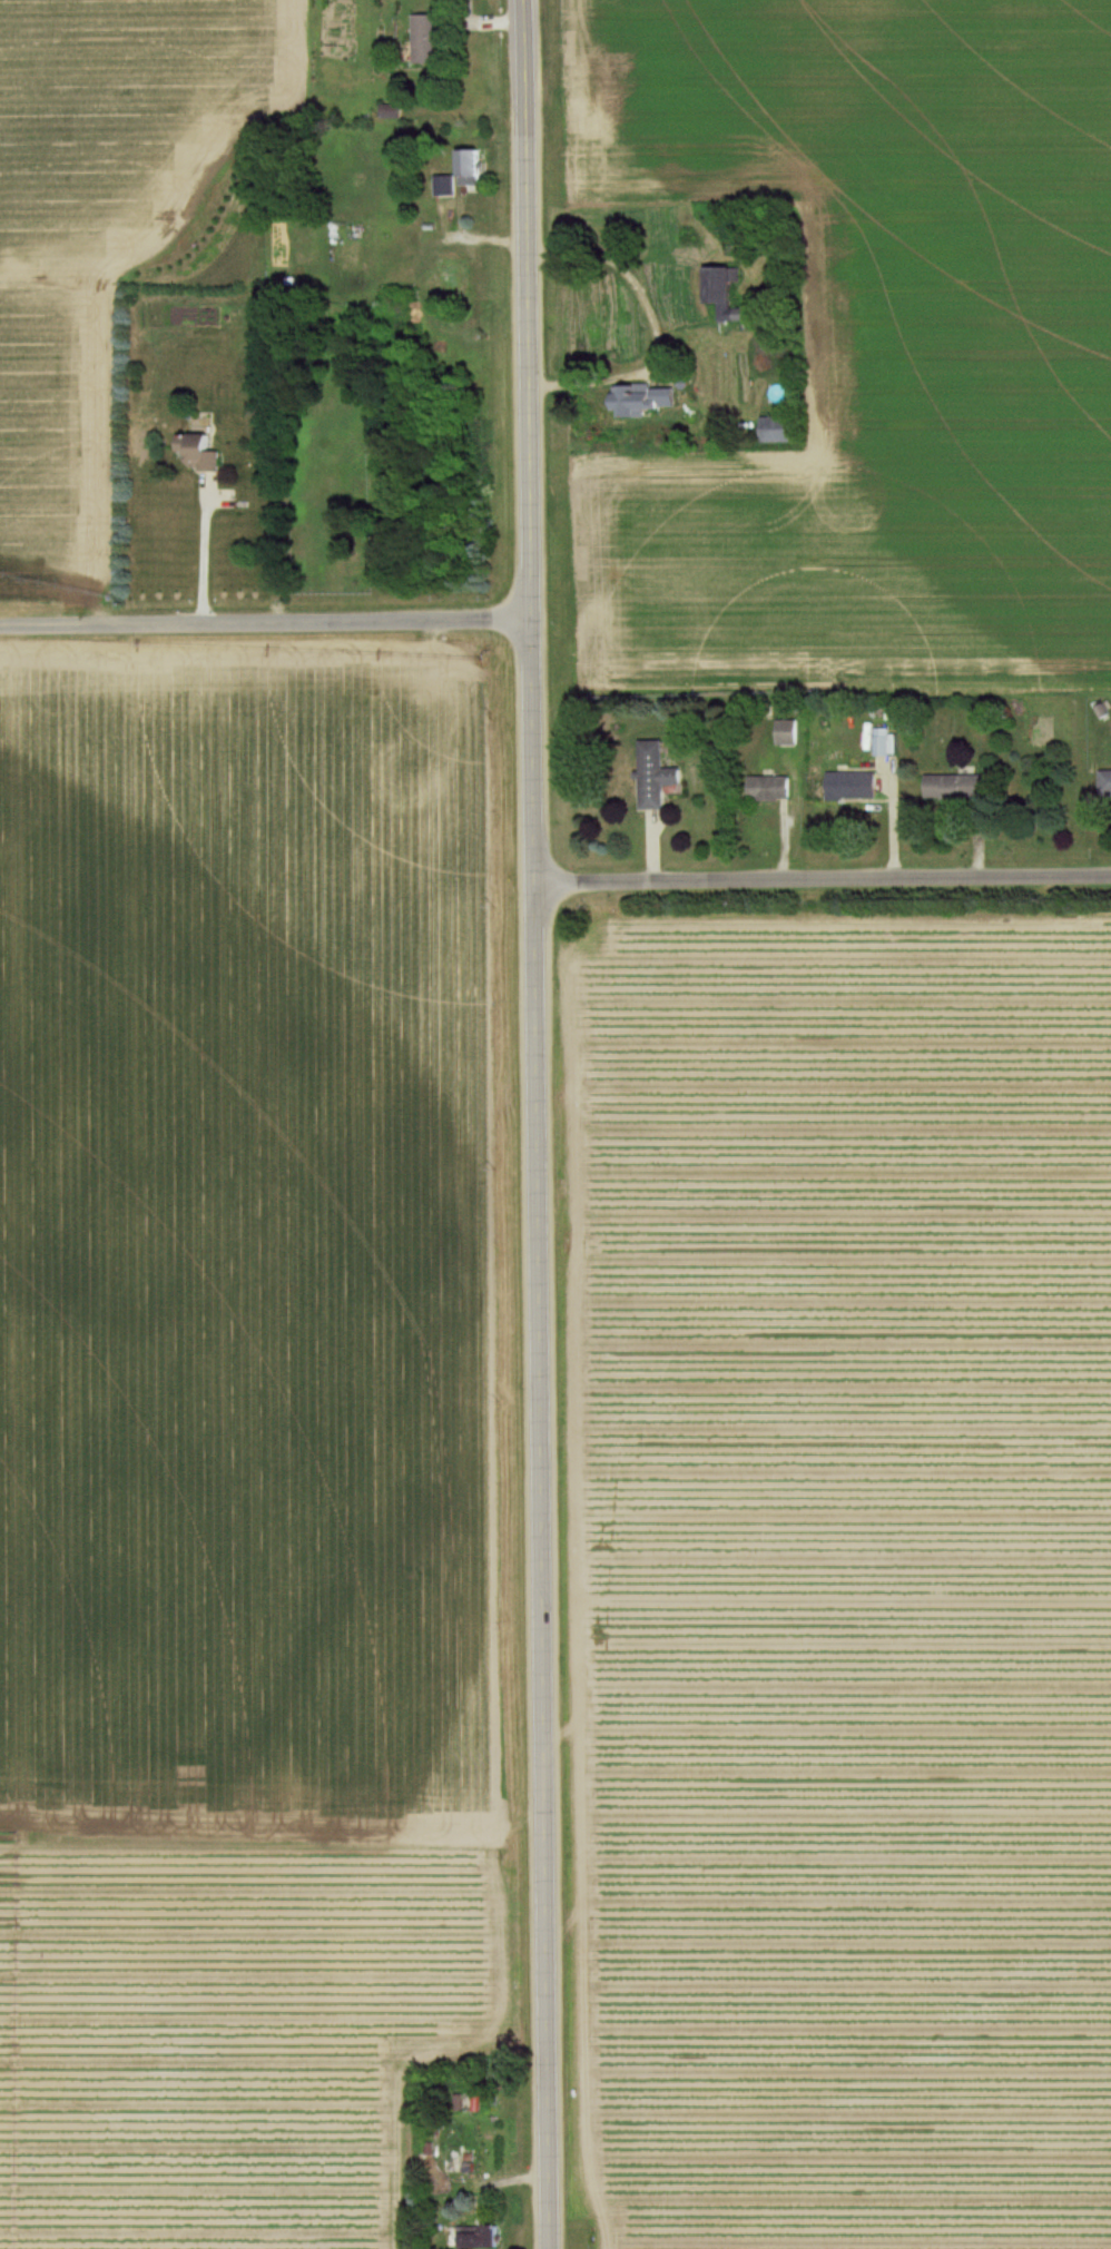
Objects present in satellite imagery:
building: (427, 39)
building: (471, 168)
building: (444, 186)
crop: (107, 230)
building: (454, 278)
building: (729, 296)
crop: (864, 343)
building: (646, 400)
building: (779, 431)
building: (201, 453)
road: (199, 552)
road: (263, 622)
building: (786, 733)
building: (882, 741)
building: (655, 777)
building: (865, 785)
building: (1105, 786)
building: (956, 788)
building: (771, 789)
road: (822, 879)
road: (534, 1124)
crop: (238, 1443)
building: (479, 2237)

